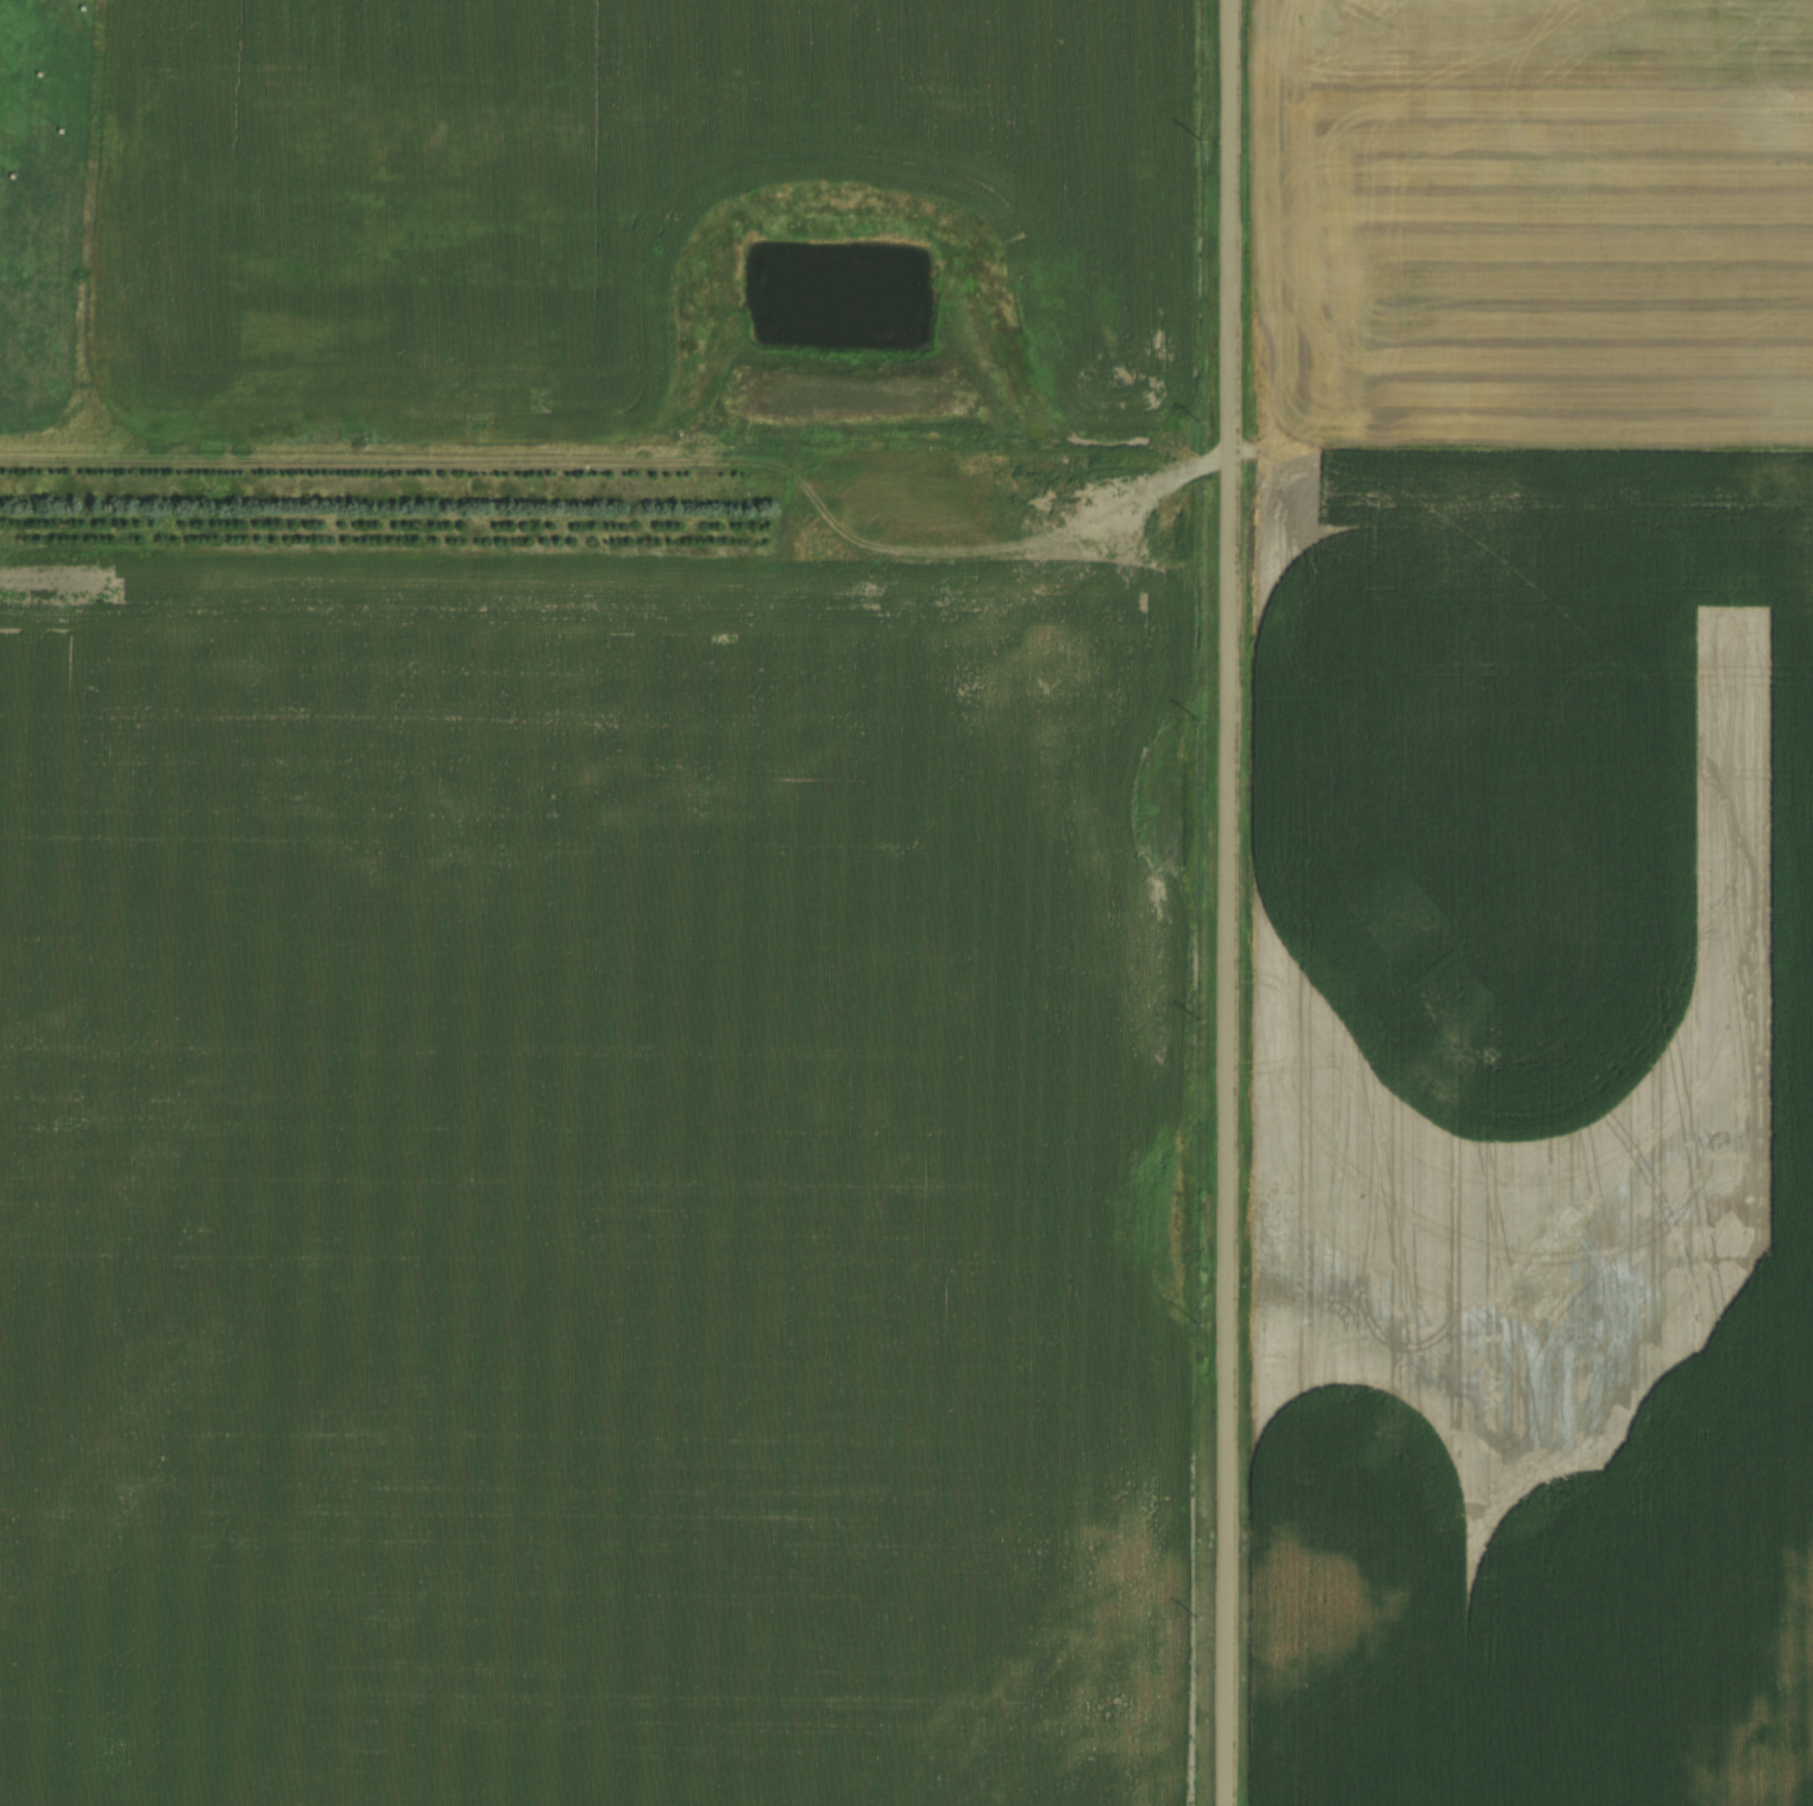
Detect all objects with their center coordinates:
road: (1228, 902)

